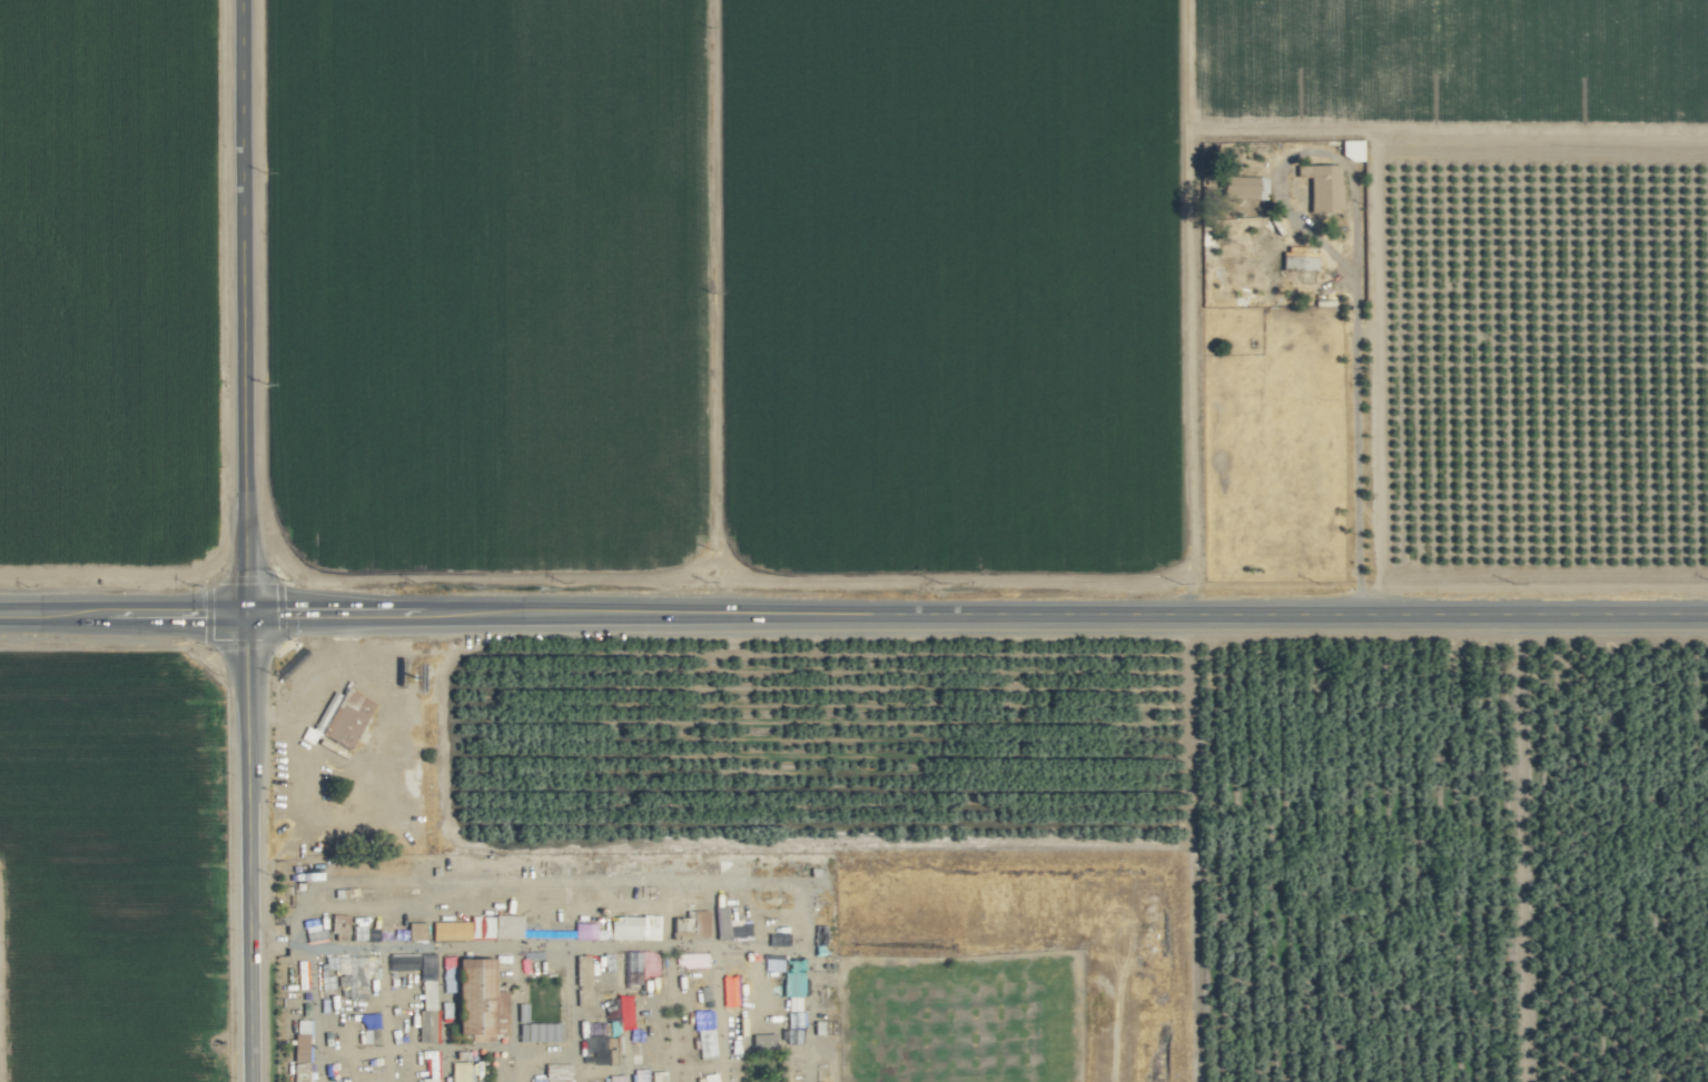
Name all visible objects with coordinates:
road: (1448, 129)
building: (1242, 187)
building: (1315, 189)
building: (1232, 245)
building: (1299, 262)
building: (1245, 272)
road: (241, 307)
road: (713, 307)
road: (1191, 307)
road: (1355, 365)
road: (1379, 371)
crop: (853, 540)
road: (122, 614)
traffic signals: (246, 615)
road: (977, 615)
building: (345, 717)
road: (248, 848)
building: (698, 922)
building: (725, 922)
building: (516, 927)
building: (622, 927)
building: (415, 930)
building: (818, 934)
building: (688, 957)
building: (425, 965)
building: (791, 976)
building: (604, 981)
building: (632, 990)
building: (729, 991)
building: (427, 1010)
building: (822, 1045)
building: (796, 1061)
building: (458, 1071)

